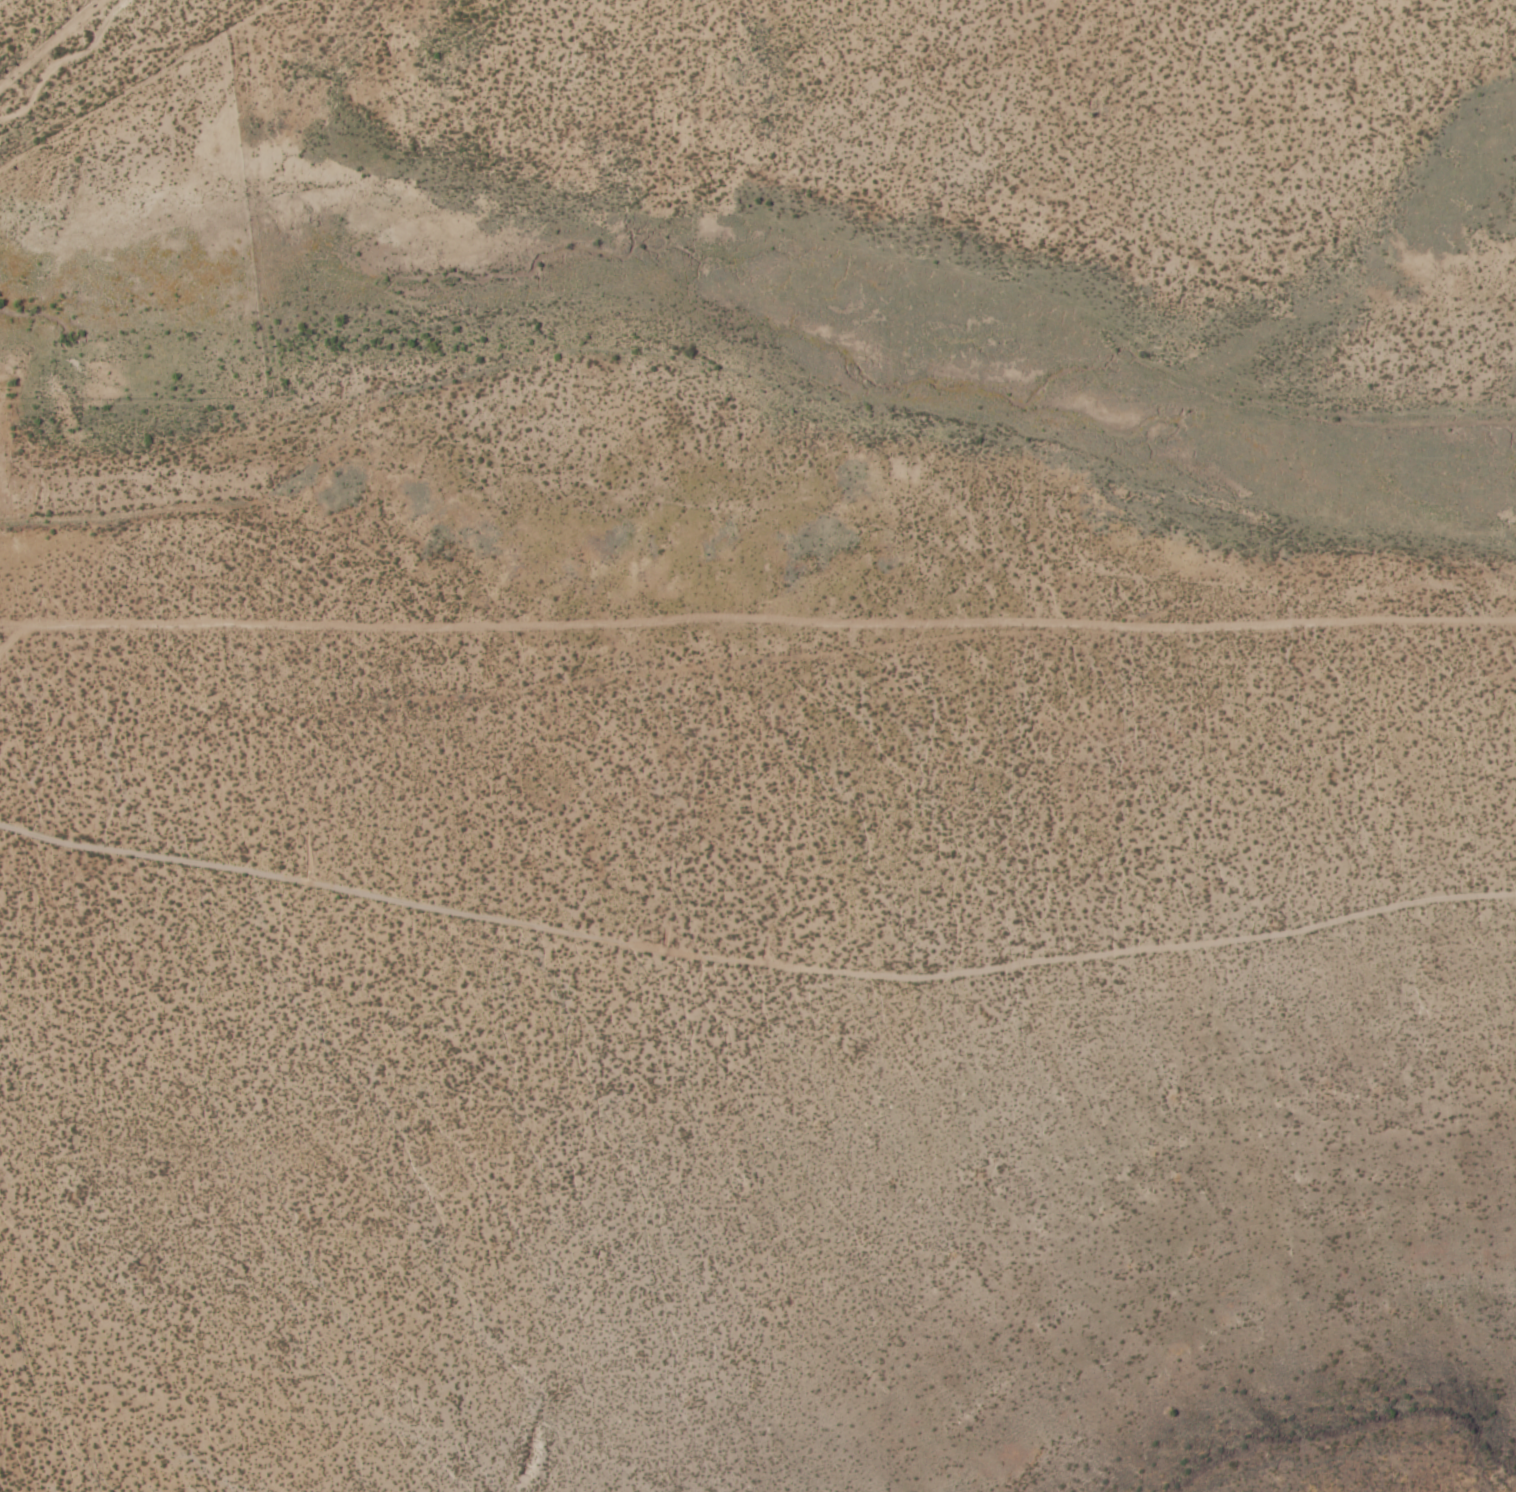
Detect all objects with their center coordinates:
road: (58, 49)
road: (755, 955)

